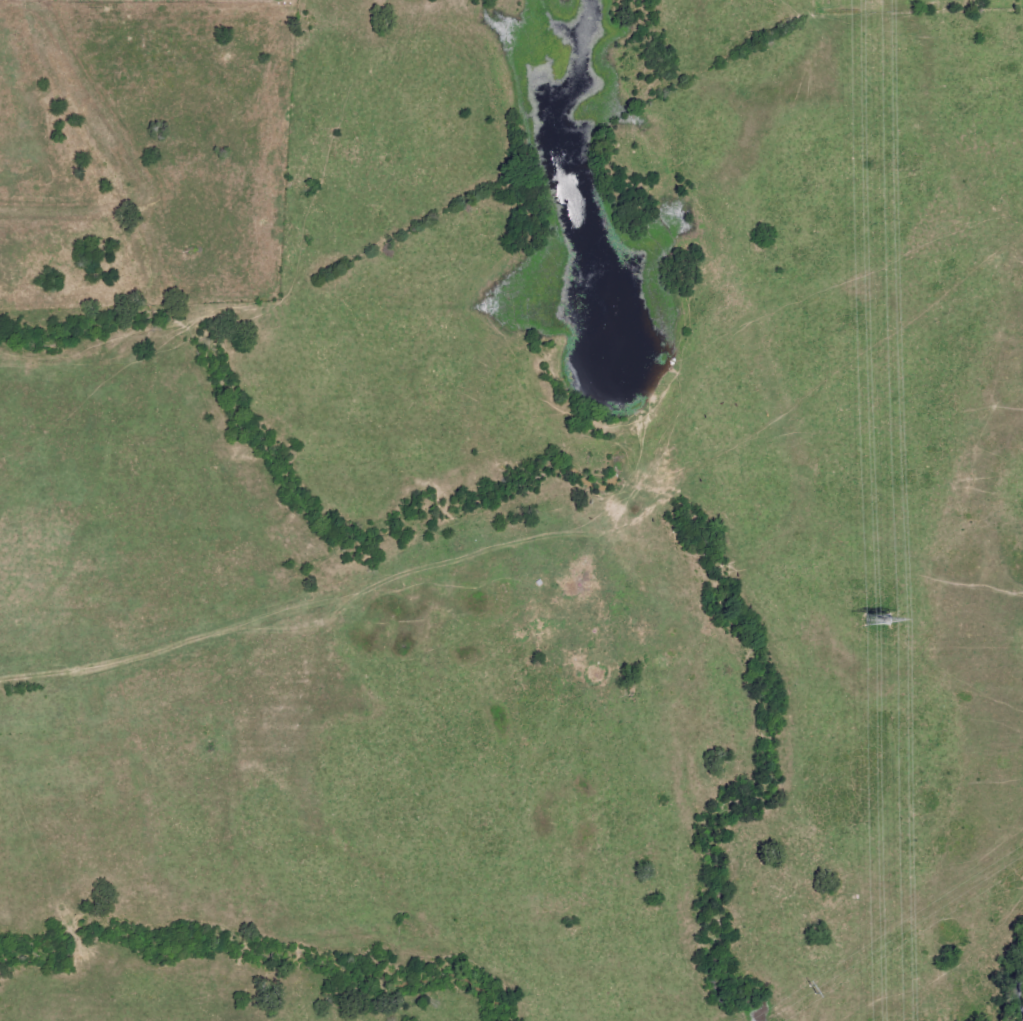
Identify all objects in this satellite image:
power tower: (875, 618)
power tower: (811, 991)

